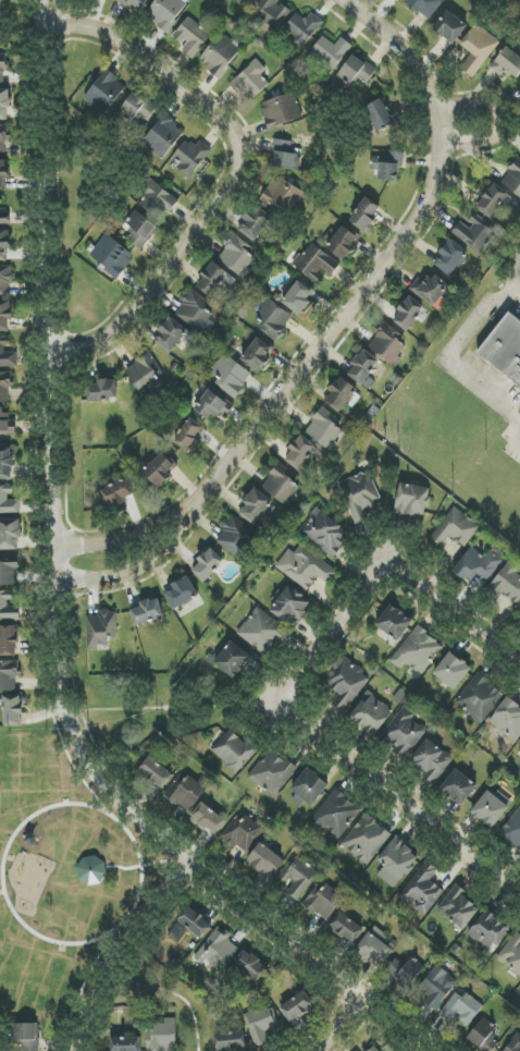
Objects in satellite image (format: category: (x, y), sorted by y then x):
building: (253, 0)
building: (134, 4)
building: (424, 7)
building: (271, 12)
building: (165, 13)
building: (450, 26)
building: (301, 28)
building: (191, 37)
building: (478, 49)
building: (331, 50)
building: (220, 56)
building: (507, 63)
building: (2, 70)
building: (356, 71)
building: (250, 80)
building: (104, 91)
building: (4, 103)
building: (138, 108)
building: (282, 110)
building: (382, 114)
road: (468, 118)
building: (163, 135)
building: (2, 139)
building: (286, 156)
building: (190, 158)
building: (388, 166)
building: (2, 173)
road: (245, 176)
building: (512, 179)
building: (284, 195)
building: (158, 200)
building: (492, 200)
building: (366, 215)
building: (4, 218)
building: (255, 224)
building: (139, 230)
building: (473, 234)
building: (342, 243)
building: (4, 246)
building: (111, 256)
building: (237, 256)
building: (450, 257)
building: (314, 262)
building: (214, 279)
building: (5, 280)
building: (431, 290)
building: (298, 297)
building: (194, 310)
building: (408, 313)
building: (5, 315)
building: (272, 320)
road: (336, 326)
building: (170, 335)
building: (388, 345)
building: (505, 351)
building: (257, 354)
road: (450, 354)
building: (7, 355)
building: (362, 366)
building: (143, 374)
building: (230, 375)
building: (4, 387)
building: (102, 390)
building: (342, 395)
building: (212, 406)
building: (7, 423)
building: (324, 430)
building: (189, 436)
building: (299, 452)
building: (5, 464)
building: (160, 469)
building: (281, 488)
building: (115, 494)
building: (360, 496)
building: (412, 500)
building: (8, 501)
building: (257, 508)
building: (455, 528)
road: (140, 530)
building: (324, 533)
building: (10, 534)
building: (235, 540)
building: (207, 564)
building: (479, 564)
road: (154, 567)
building: (305, 567)
building: (9, 570)
road: (131, 583)
building: (508, 583)
road: (432, 587)
road: (91, 592)
building: (181, 592)
road: (58, 607)
building: (290, 607)
building: (8, 608)
building: (147, 611)
building: (518, 615)
building: (394, 623)
building: (100, 628)
building: (262, 631)
building: (8, 639)
building: (418, 651)
building: (232, 660)
building: (453, 671)
building: (9, 675)
building: (345, 684)
building: (479, 698)
building: (12, 711)
building: (371, 713)
building: (508, 719)
building: (403, 733)
building: (234, 751)
building: (431, 760)
road: (361, 762)
building: (272, 772)
building: (154, 773)
building: (309, 786)
building: (459, 786)
building: (186, 793)
building: (490, 809)
building: (336, 815)
building: (208, 819)
building: (512, 830)
building: (242, 833)
road: (5, 835)
building: (366, 839)
road: (161, 860)
building: (265, 860)
building: (396, 861)
building: (75, 869)
building: (94, 871)
park: (60, 875)
building: (300, 877)
building: (422, 890)
building: (323, 901)
building: (458, 908)
road: (3, 911)
building: (195, 921)
building: (346, 928)
building: (487, 931)
road: (77, 944)
building: (374, 948)
building: (220, 950)
road: (119, 951)
building: (511, 954)
building: (251, 966)
building: (401, 973)
building: (437, 987)
building: (297, 1007)
building: (460, 1009)
building: (261, 1025)
road: (338, 1026)
building: (162, 1036)
building: (484, 1036)
building: (26, 1037)
building: (230, 1041)
building: (125, 1043)
building: (513, 1043)
building: (373, 1049)

